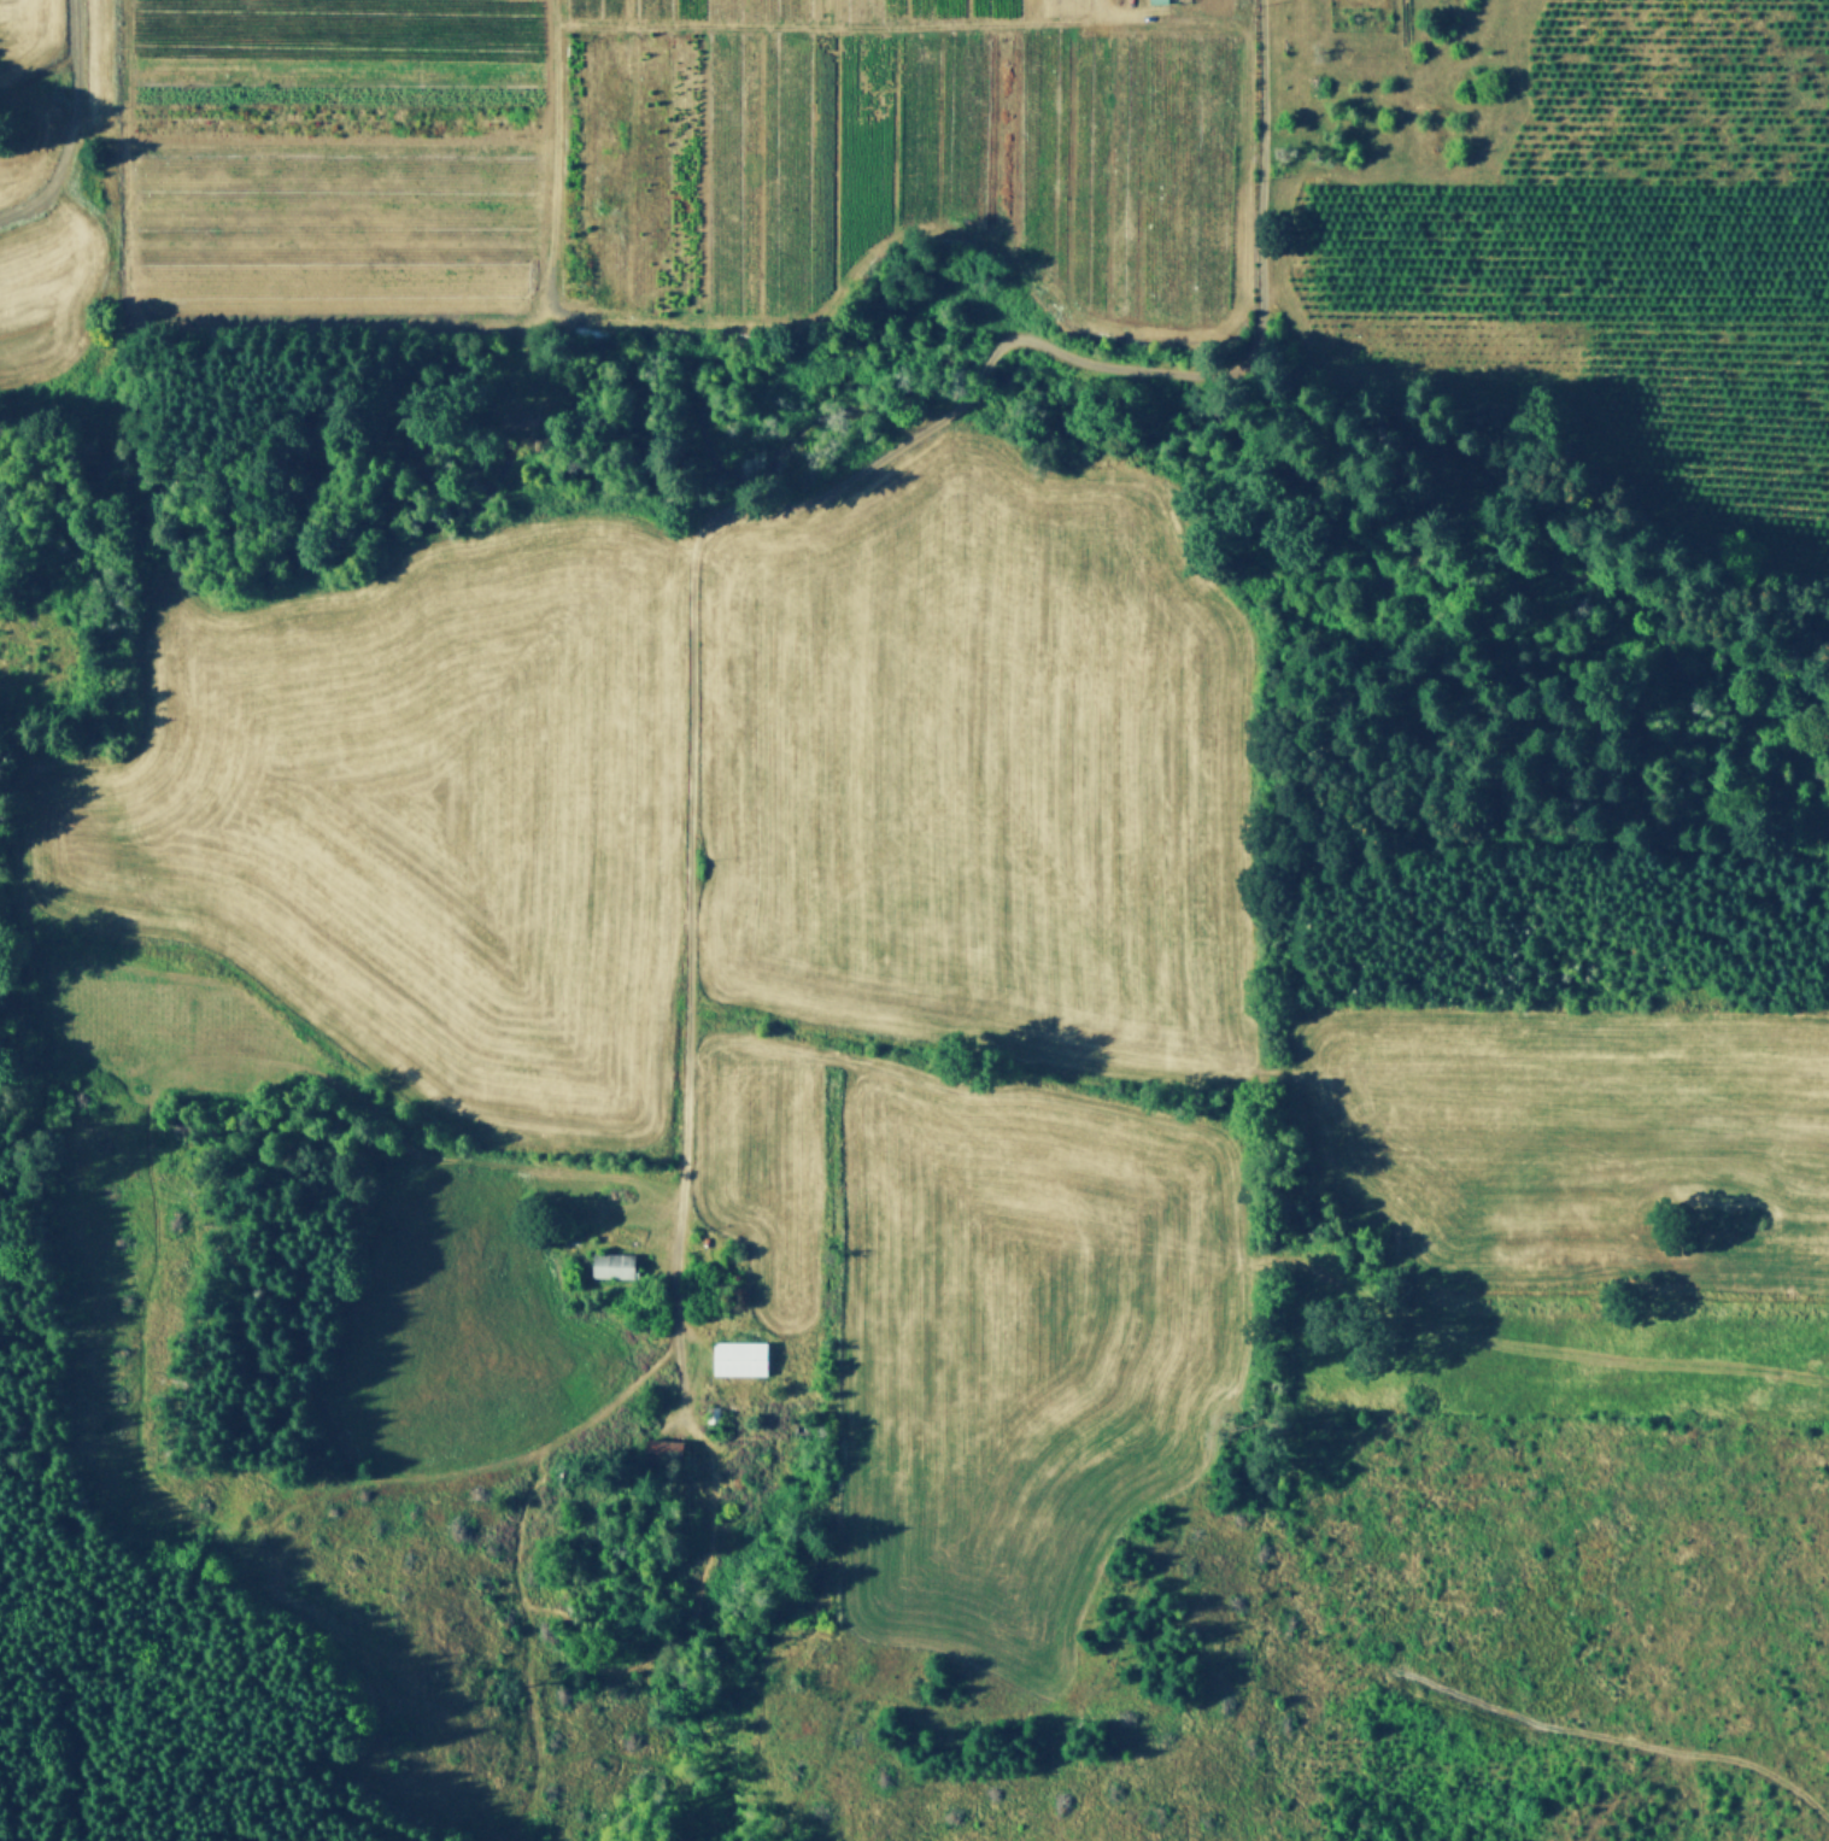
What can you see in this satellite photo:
building: (1161, 2)
road: (907, 25)
crop: (29, 48)
road: (75, 127)
crop: (664, 157)
road: (552, 166)
crop: (1614, 247)
crop: (41, 250)
road: (750, 512)
crop: (974, 762)
crop: (415, 809)
crop: (1564, 1104)
crop: (1623, 1245)
building: (620, 1266)
building: (744, 1358)
building: (664, 1450)

